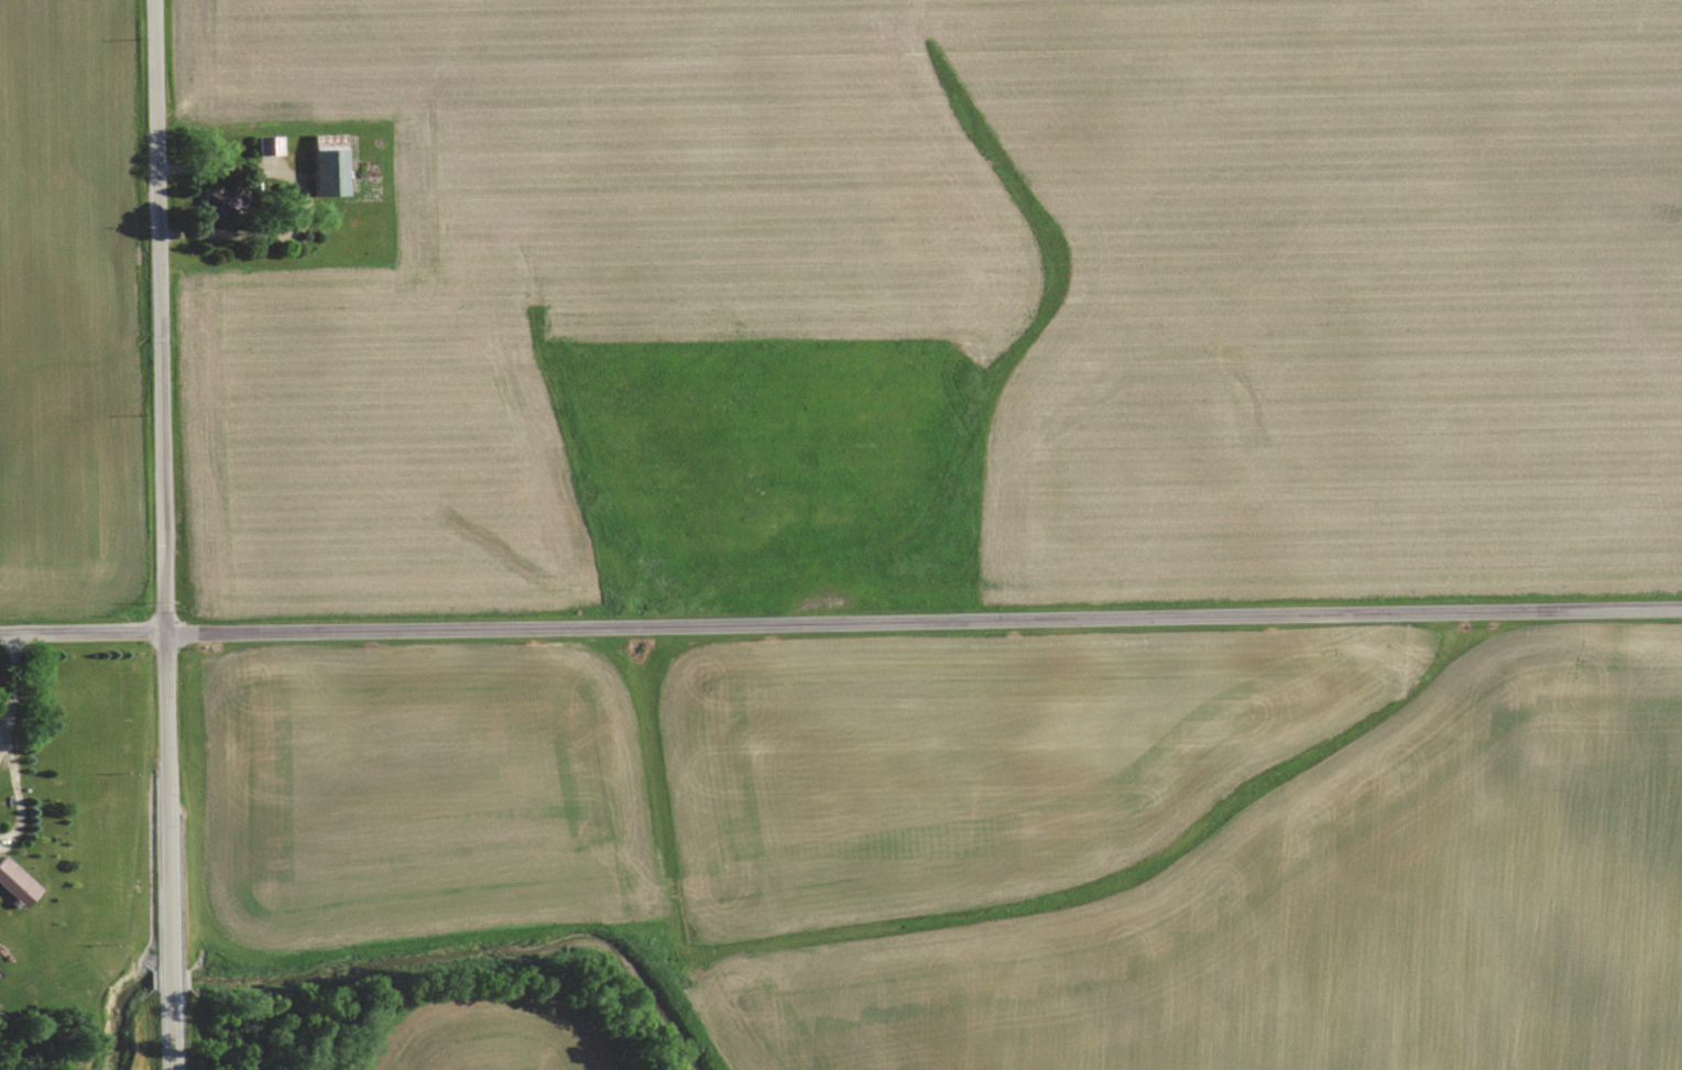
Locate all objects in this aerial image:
building: (271, 144)
building: (329, 163)
road: (164, 534)
road: (840, 621)
road: (8, 684)
road: (2, 740)
road: (18, 794)
building: (17, 882)

